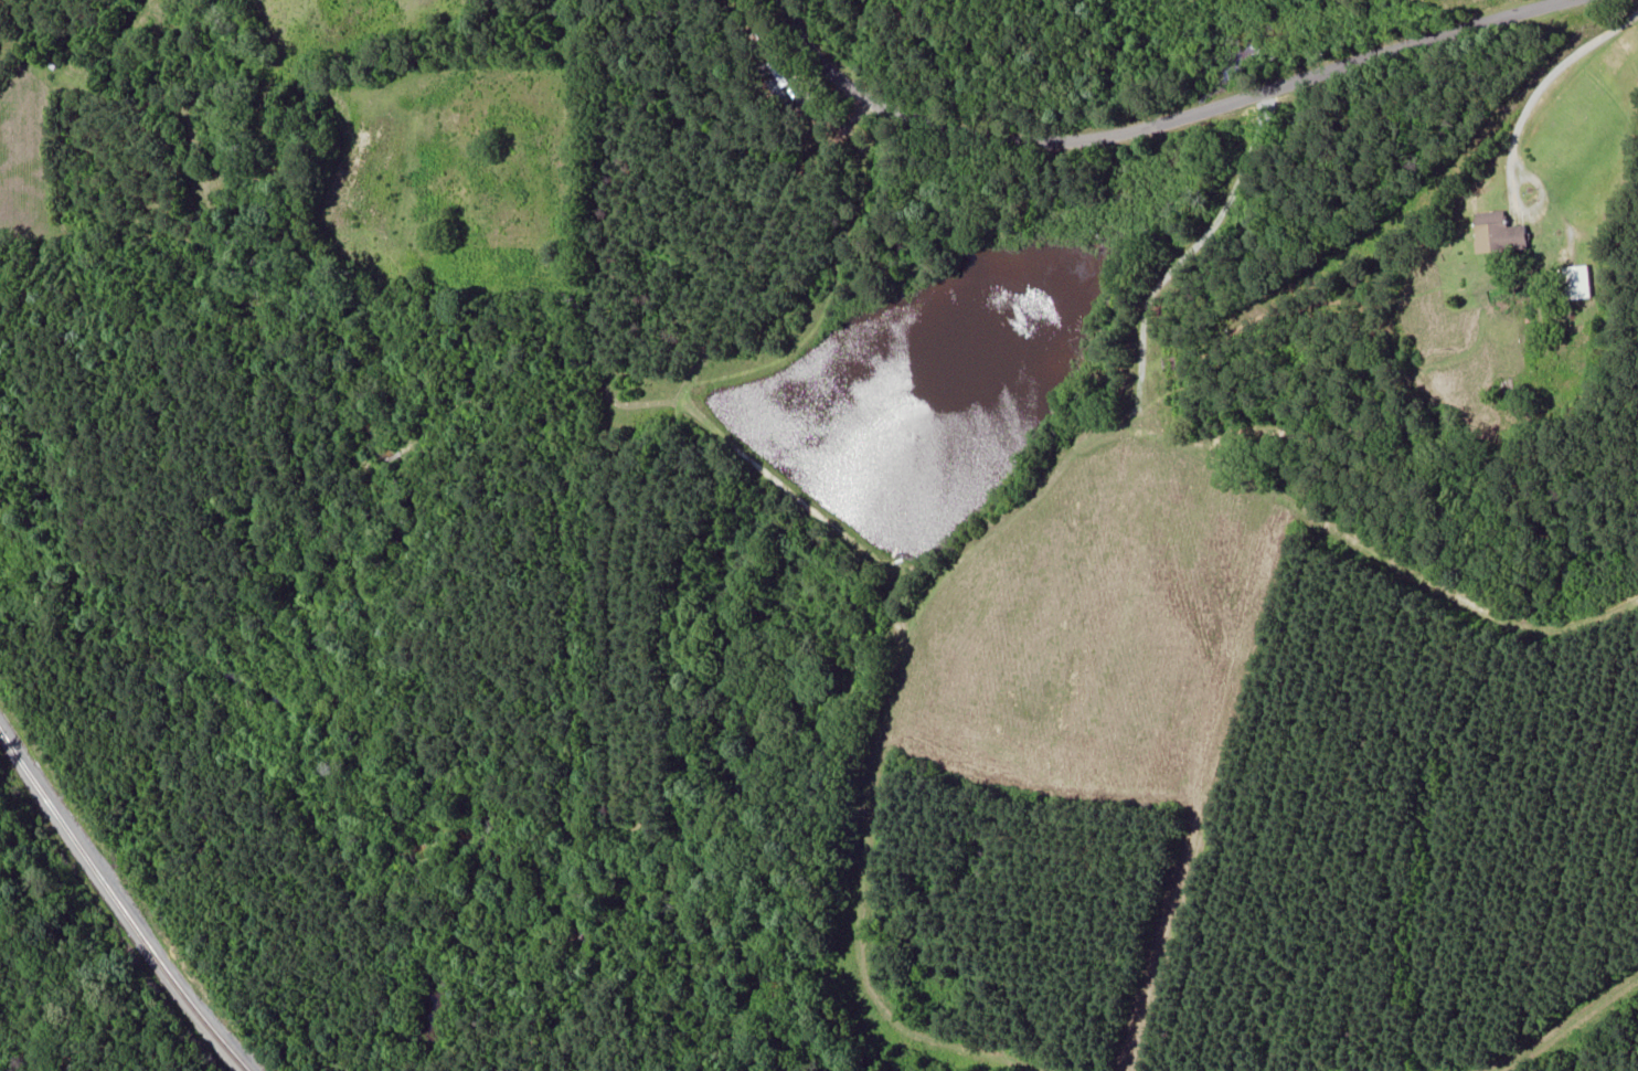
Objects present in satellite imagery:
road: (852, 20)
road: (1152, 121)
building: (1501, 233)
building: (1578, 283)
railway: (118, 905)

